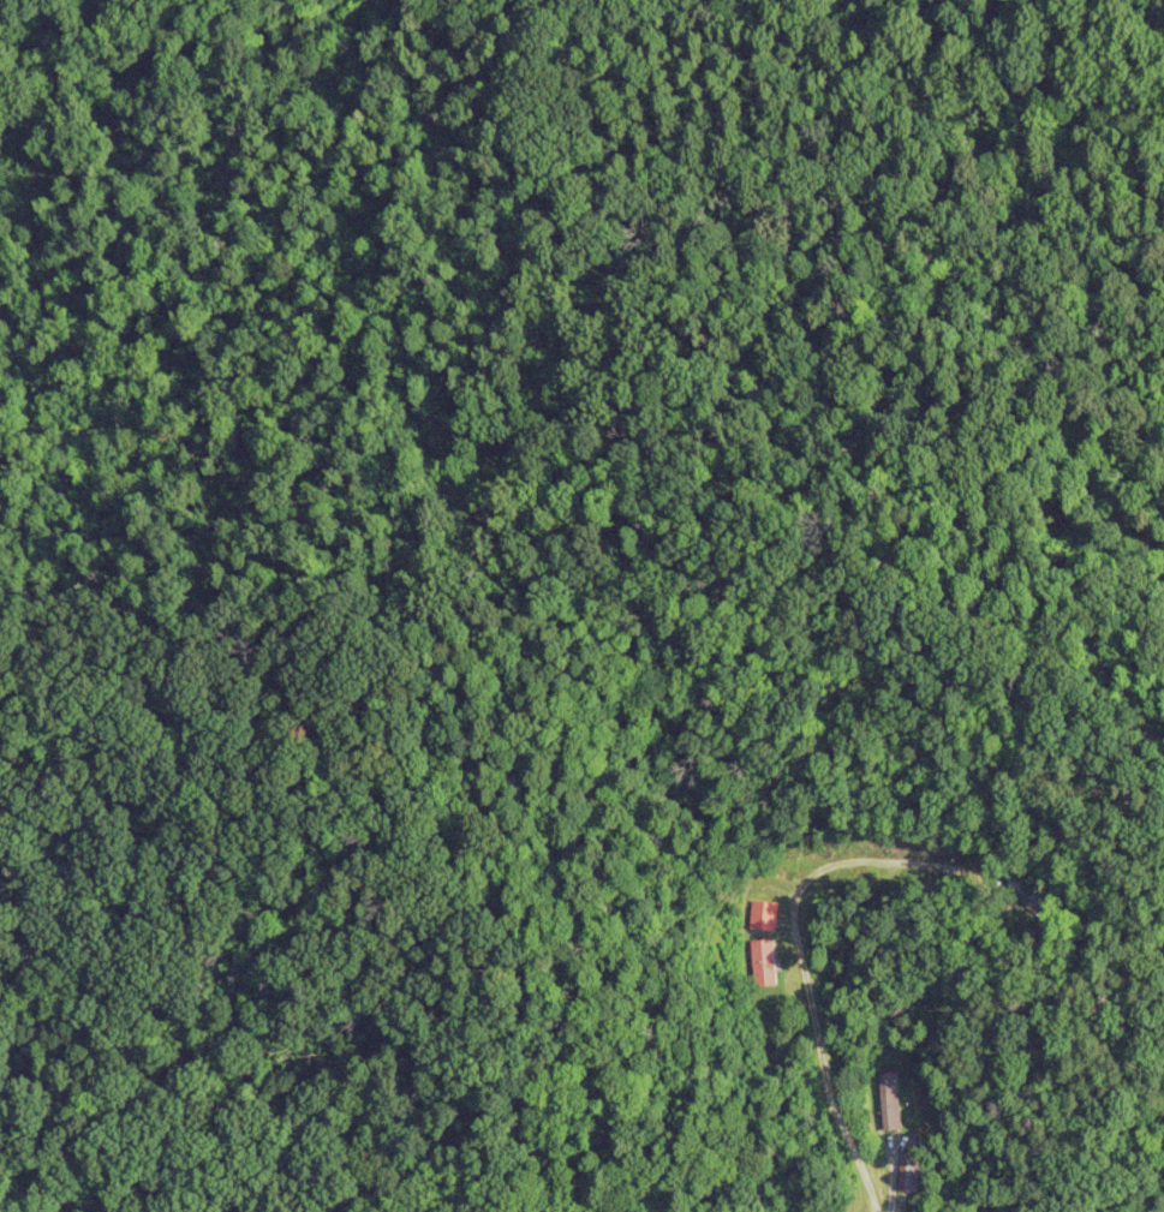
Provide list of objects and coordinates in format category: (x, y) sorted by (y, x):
building: (923, 886)
building: (1023, 892)
building: (760, 915)
building: (759, 963)
road: (812, 1034)
building: (885, 1100)
building: (903, 1172)

